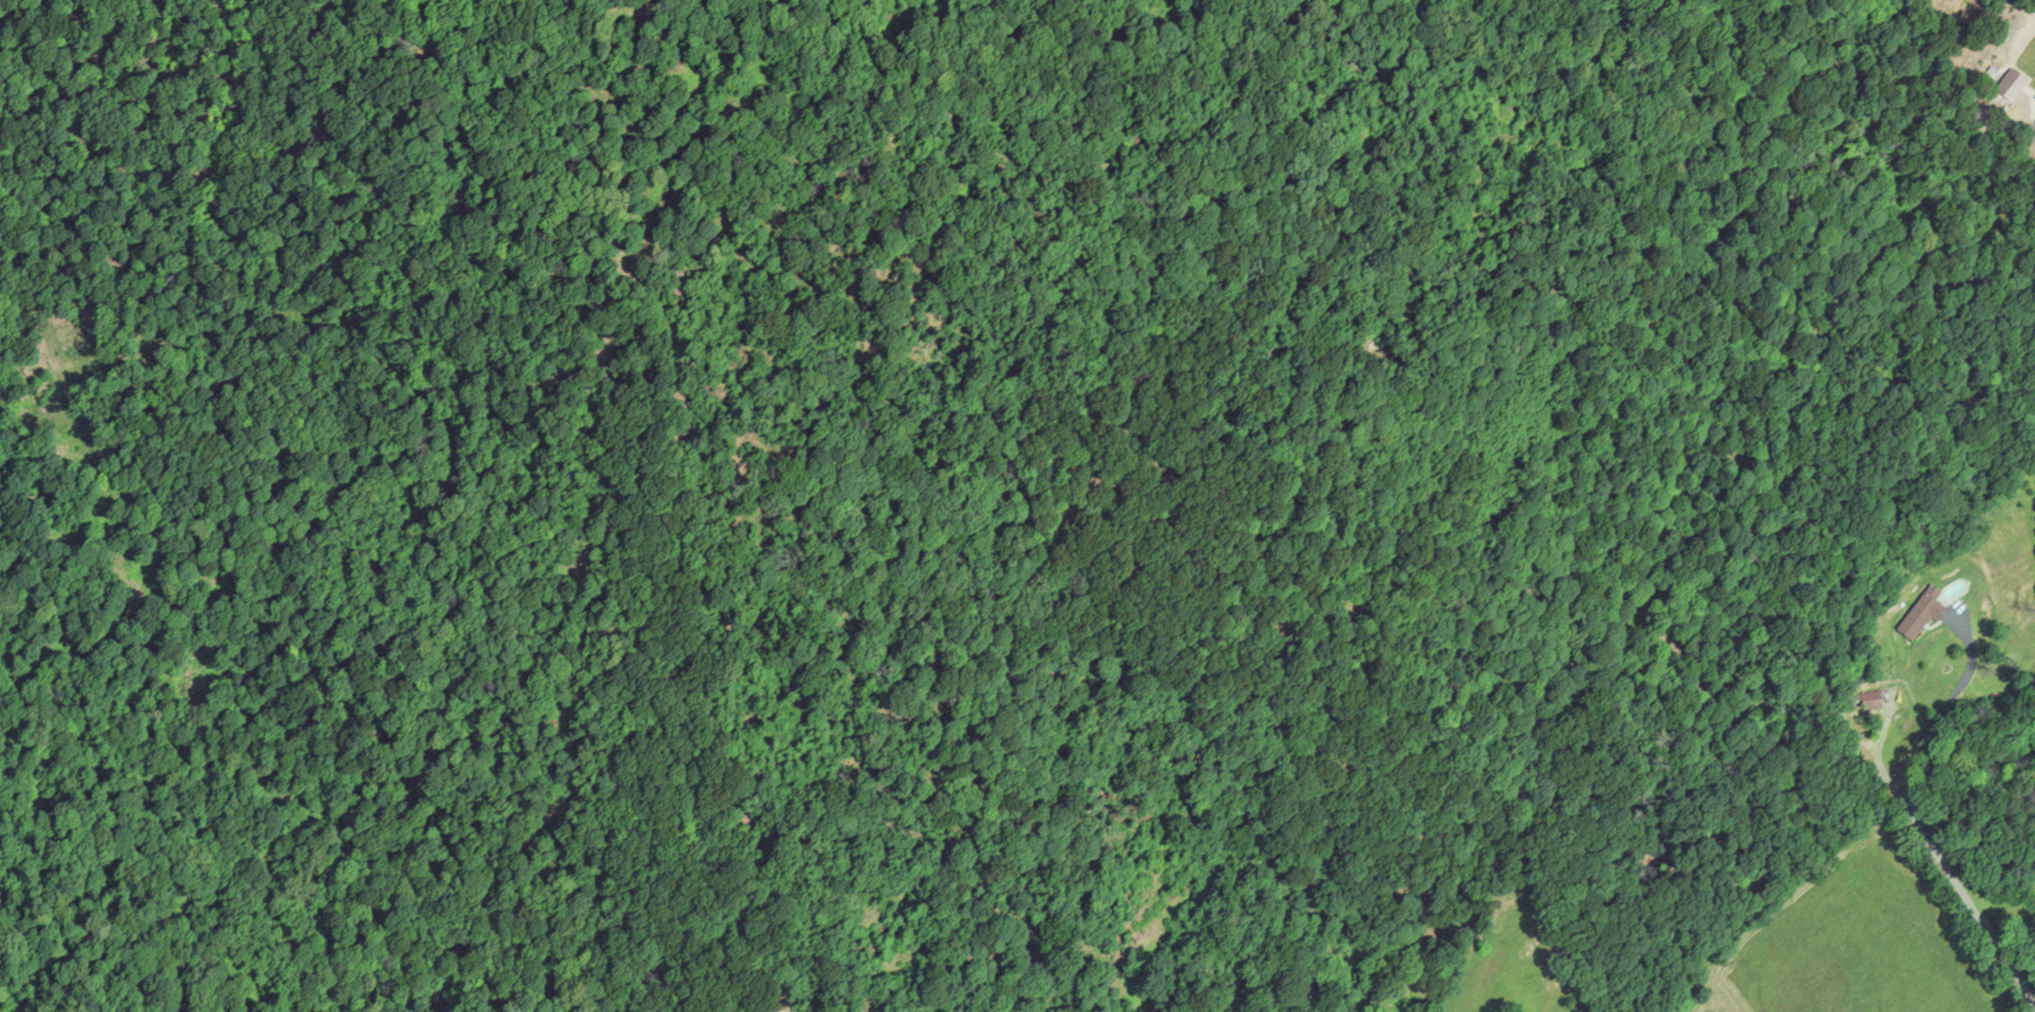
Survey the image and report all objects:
building: (2006, 84)
building: (1926, 611)

